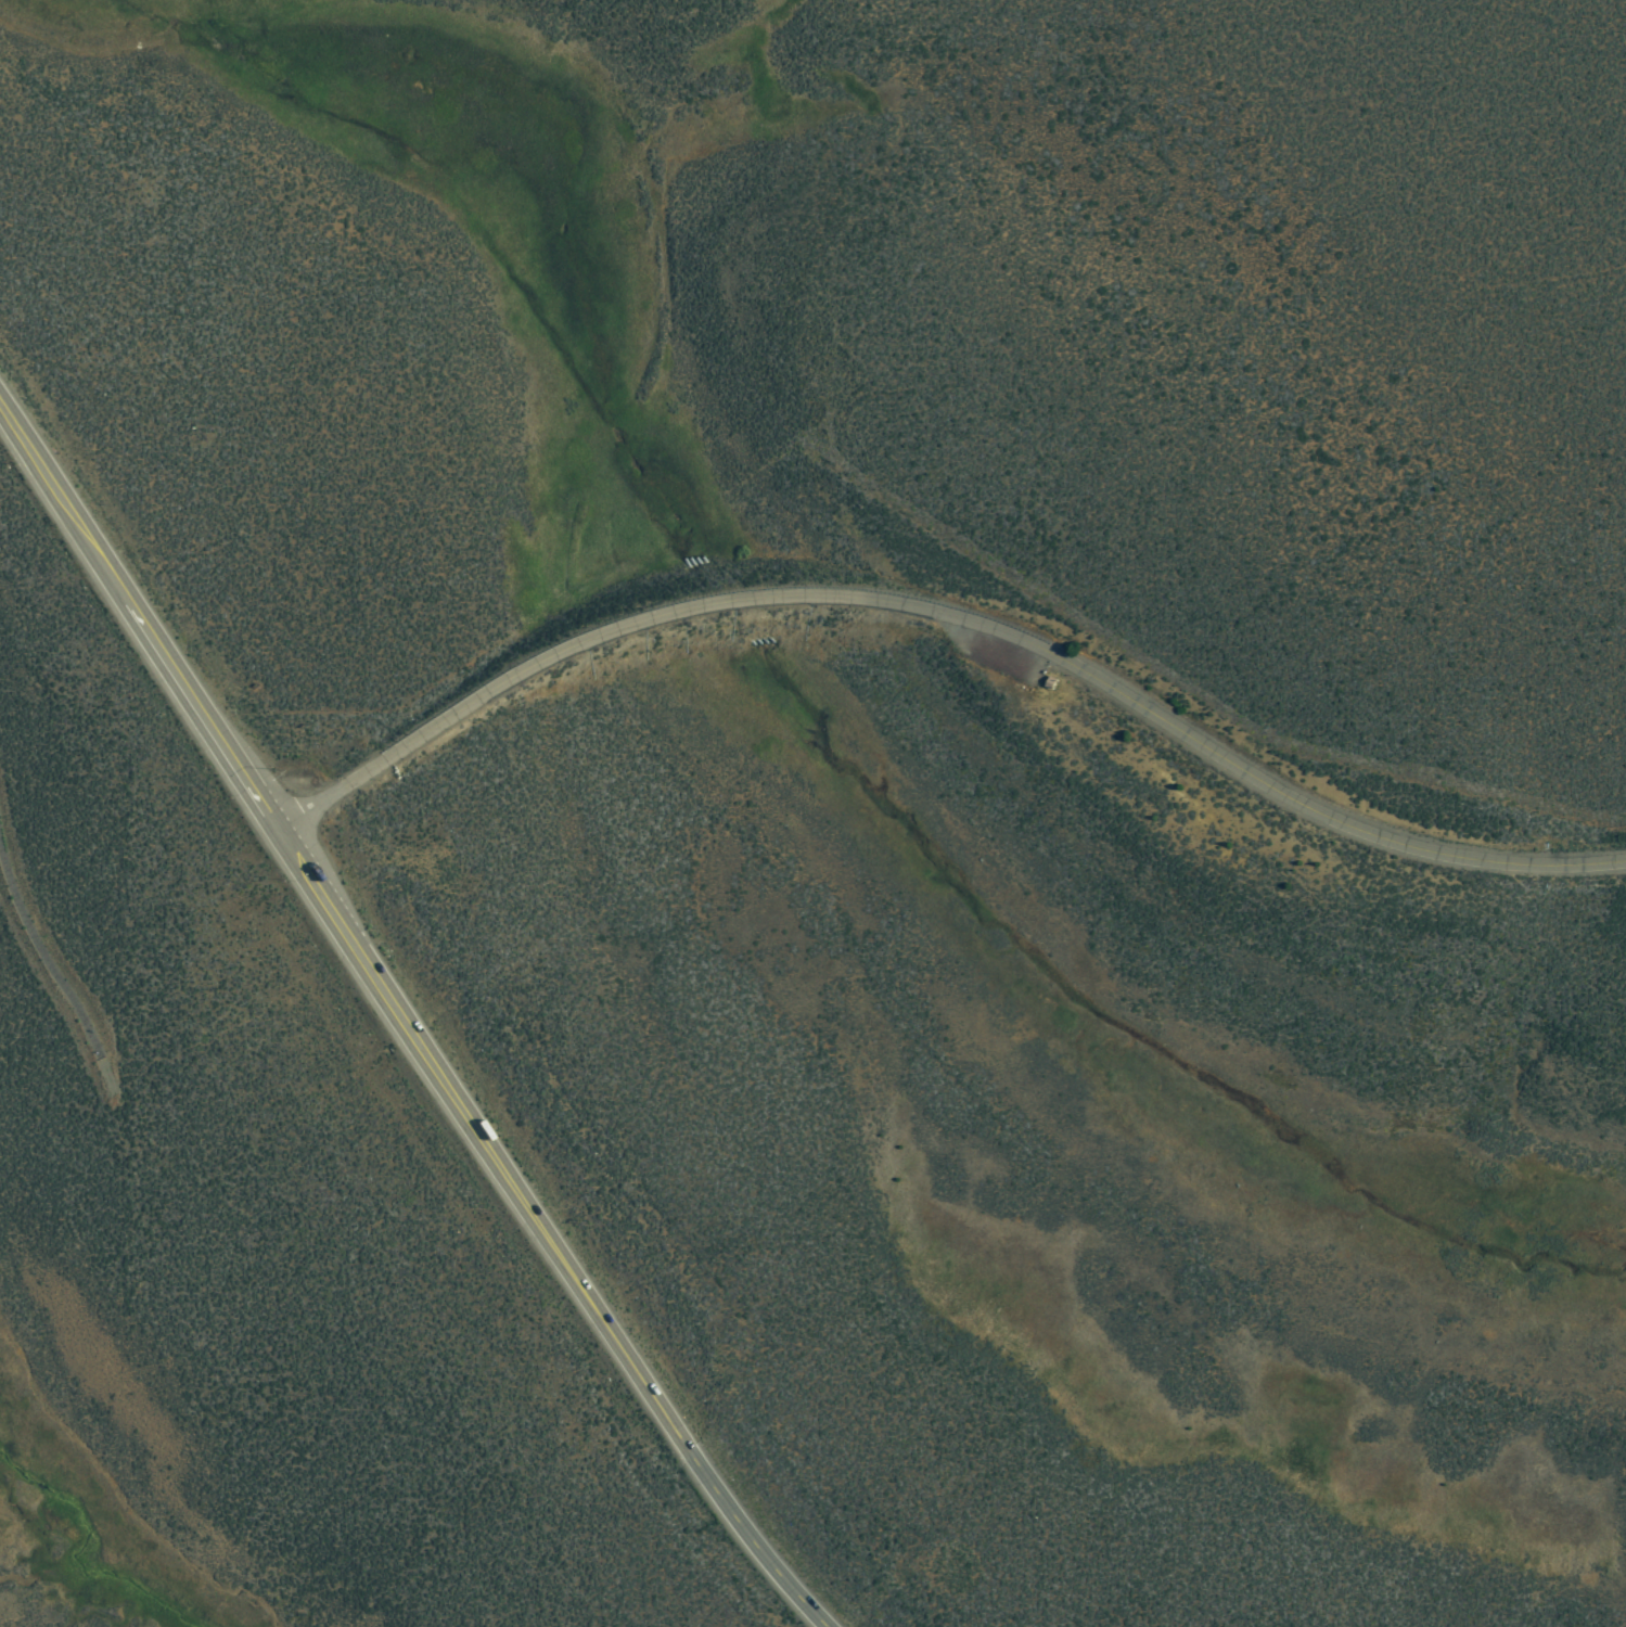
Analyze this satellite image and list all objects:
airport: (858, 321)
road: (949, 618)
road: (43, 966)
road: (402, 1021)

